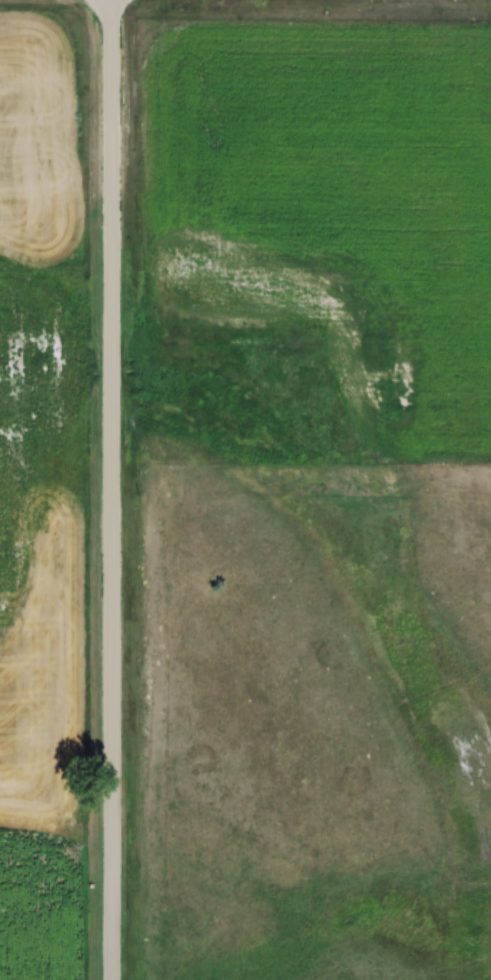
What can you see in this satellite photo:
crop: (332, 182)
road: (113, 490)

